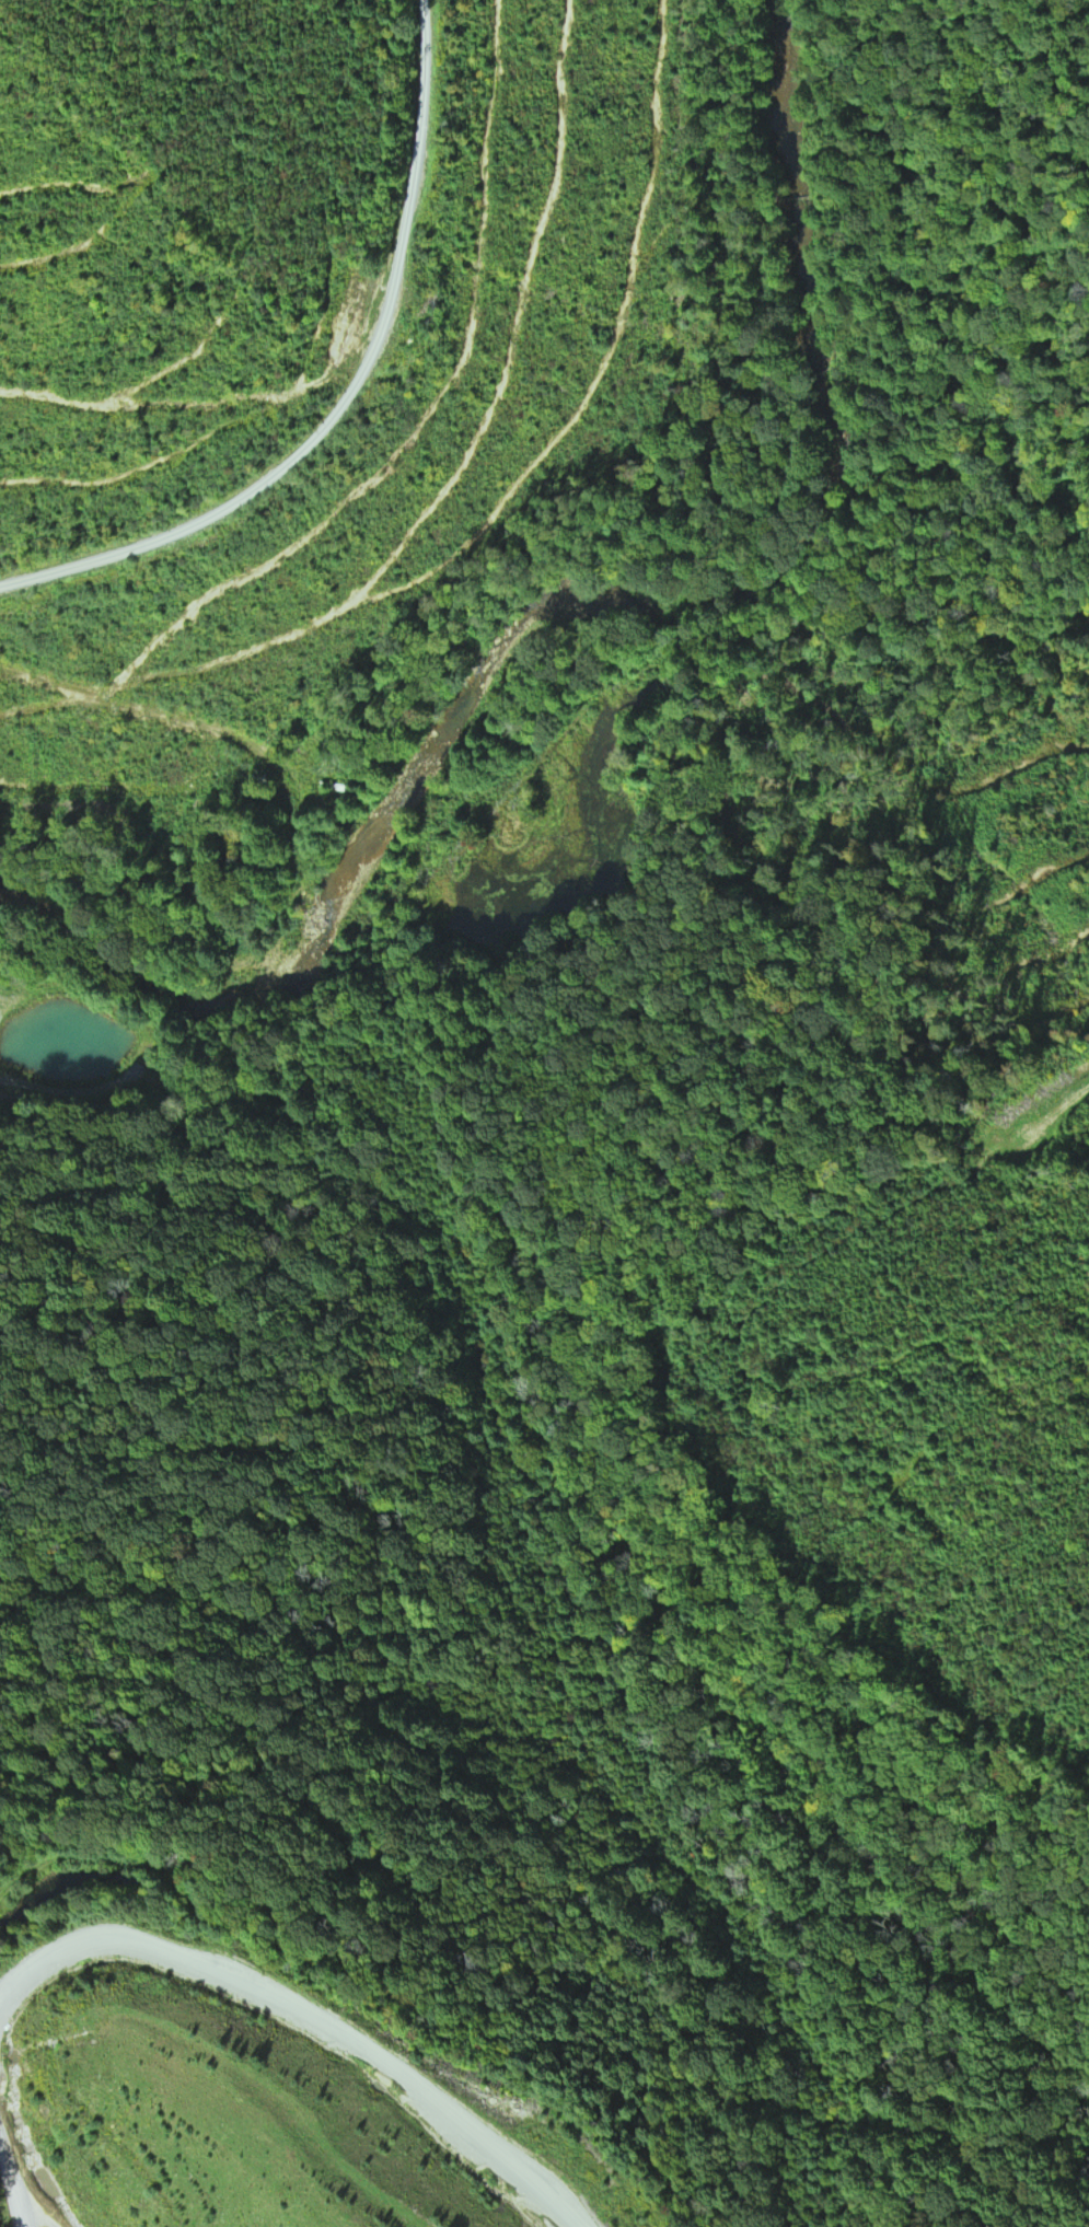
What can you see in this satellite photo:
road: (340, 420)
building: (333, 785)
road: (151, 1996)

